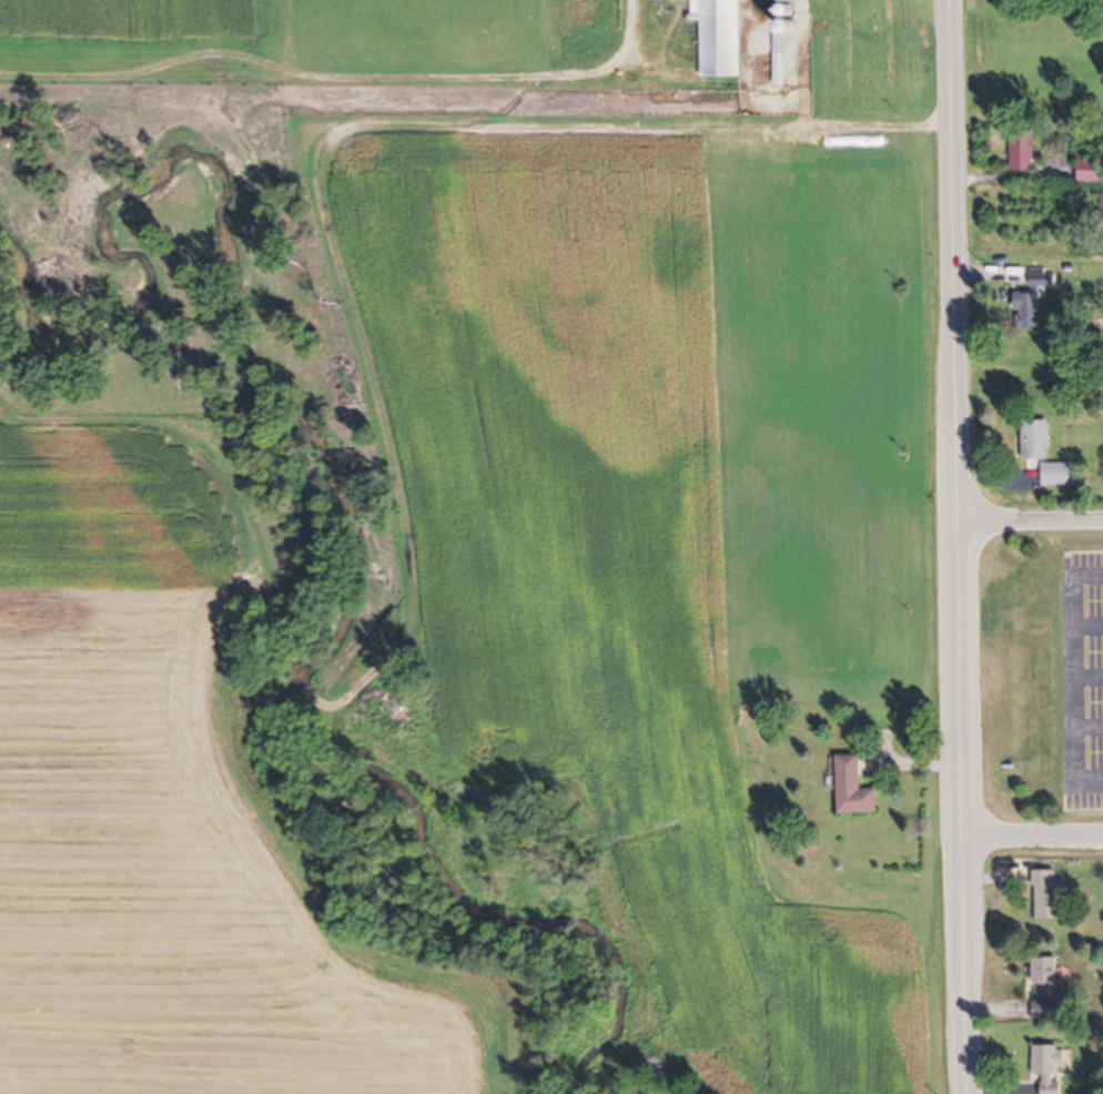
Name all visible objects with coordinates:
building: (660, 0)
building: (722, 37)
building: (780, 59)
building: (1025, 149)
building: (1091, 171)
building: (1032, 297)
building: (1036, 439)
building: (1060, 474)
road: (1028, 514)
road: (953, 547)
road: (1087, 625)
road: (1072, 677)
parking lot: (1082, 677)
road: (1087, 678)
road: (1087, 728)
building: (856, 788)
road: (1030, 837)
building: (1050, 894)
building: (1048, 975)
building: (1046, 1011)
building: (1051, 1066)

